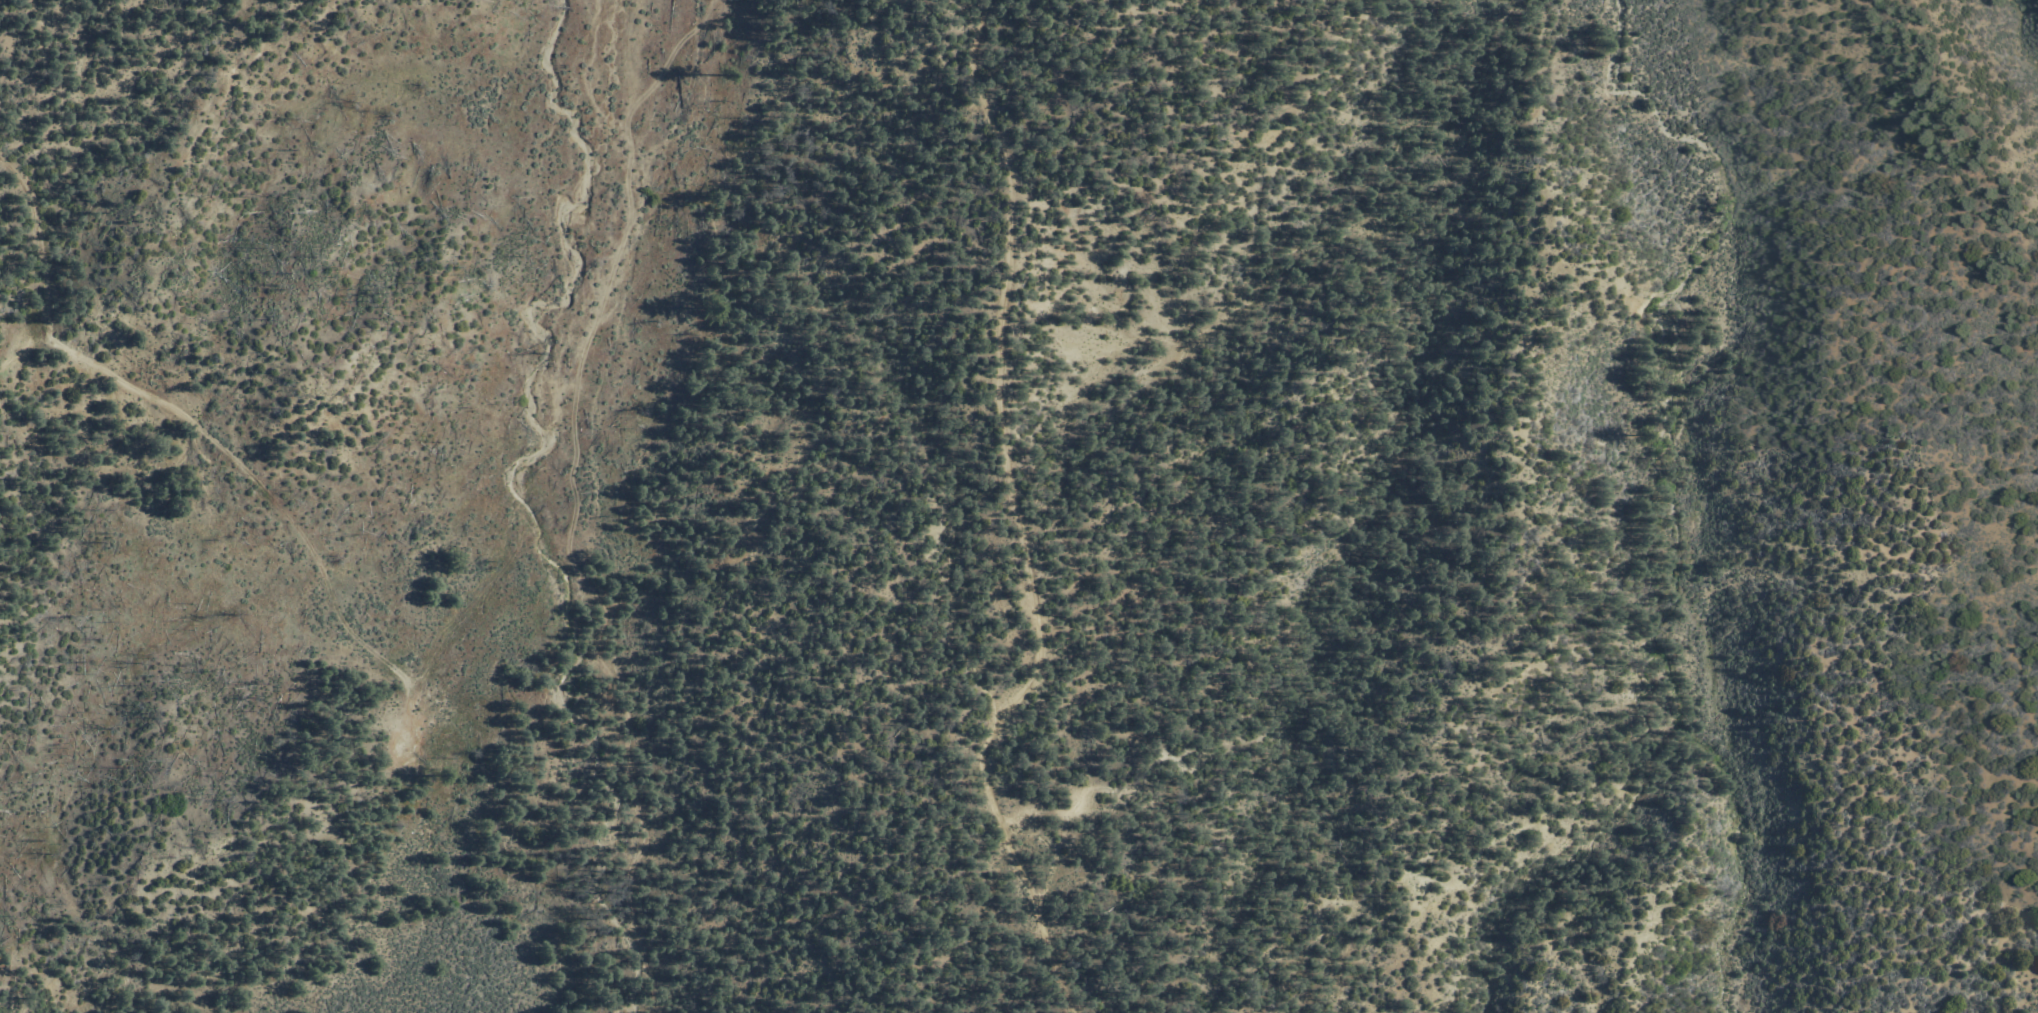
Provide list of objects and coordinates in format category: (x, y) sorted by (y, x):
road: (1020, 519)

